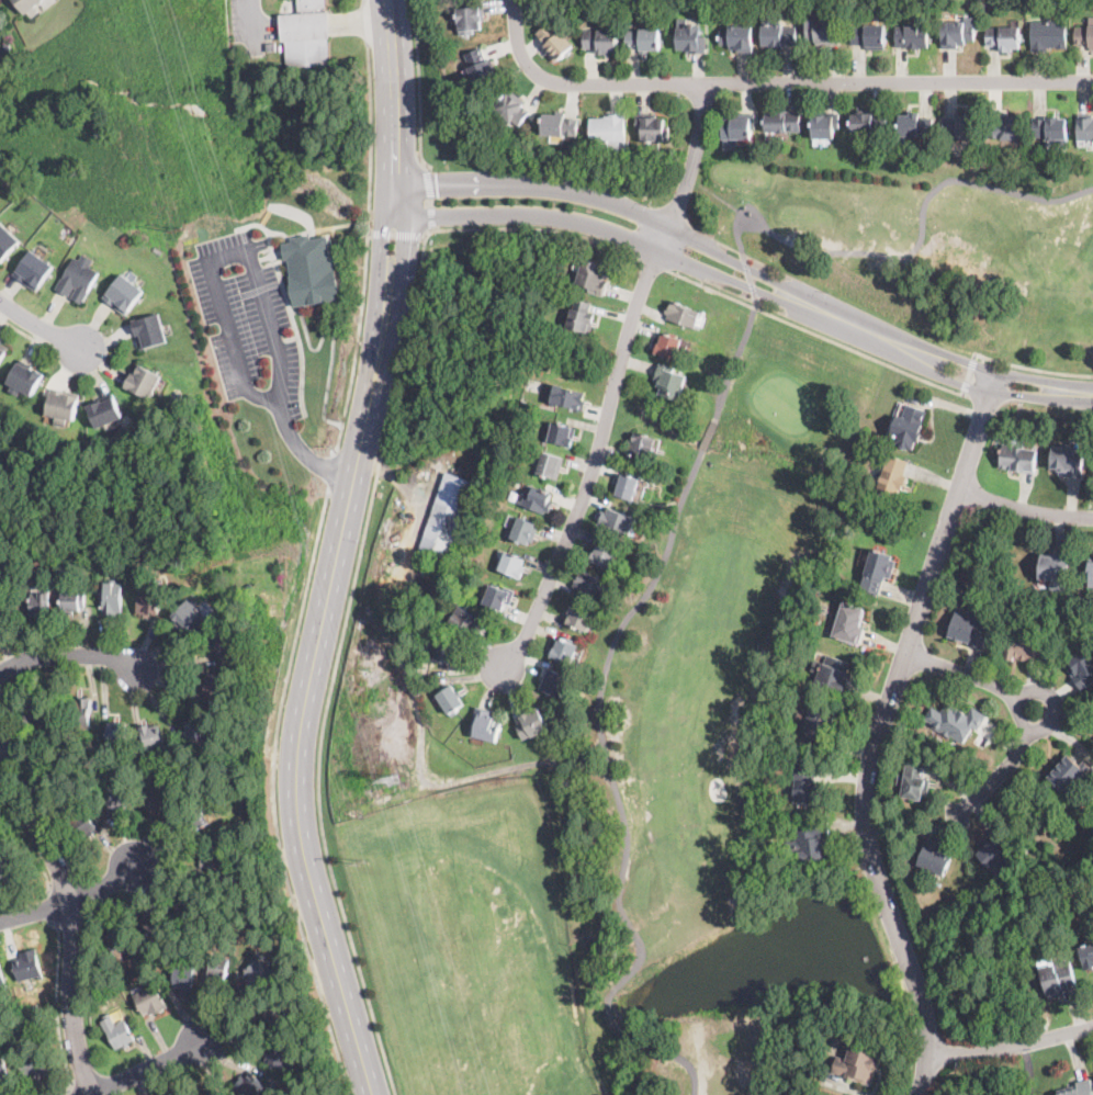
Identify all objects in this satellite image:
building: (29, 5)
building: (886, 7)
building: (796, 10)
building: (471, 16)
road: (252, 22)
building: (823, 31)
building: (958, 32)
building: (306, 34)
building: (778, 34)
building: (1049, 34)
building: (1085, 34)
building: (869, 35)
building: (913, 36)
building: (690, 37)
building: (1004, 37)
building: (643, 38)
building: (737, 38)
building: (601, 39)
building: (554, 41)
building: (271, 46)
building: (0, 54)
building: (233, 55)
building: (481, 67)
road: (774, 82)
road: (419, 84)
building: (514, 109)
building: (785, 122)
building: (869, 122)
building: (825, 124)
building: (560, 125)
building: (916, 125)
building: (653, 126)
building: (962, 126)
building: (1085, 126)
building: (737, 128)
building: (1005, 128)
building: (609, 131)
building: (1053, 131)
road: (694, 156)
road: (431, 196)
power tower: (179, 226)
road: (536, 227)
road: (370, 228)
road: (396, 236)
road: (663, 237)
road: (691, 237)
road: (916, 237)
building: (7, 241)
road: (228, 256)
road: (688, 261)
road: (651, 262)
road: (893, 269)
building: (34, 271)
building: (313, 271)
building: (593, 276)
road: (748, 276)
building: (79, 278)
building: (123, 294)
building: (683, 315)
building: (583, 317)
road: (42, 328)
road: (21, 330)
building: (150, 331)
road: (813, 332)
building: (668, 346)
building: (3, 351)
road: (735, 359)
road: (971, 362)
road: (1030, 368)
road: (968, 373)
road: (1032, 377)
building: (25, 379)
building: (144, 381)
building: (669, 382)
road: (964, 386)
road: (1027, 395)
building: (570, 397)
building: (63, 406)
building: (104, 410)
building: (910, 427)
road: (707, 433)
building: (562, 436)
building: (644, 444)
road: (306, 453)
building: (1019, 459)
building: (1069, 460)
road: (593, 462)
building: (550, 465)
road: (938, 466)
road: (330, 471)
building: (893, 476)
building: (413, 477)
building: (628, 487)
building: (640, 488)
building: (537, 499)
road: (1024, 507)
building: (477, 515)
building: (446, 518)
building: (618, 521)
building: (523, 531)
road: (336, 551)
building: (605, 555)
building: (89, 561)
building: (101, 561)
building: (15, 563)
building: (514, 565)
building: (1055, 569)
building: (878, 571)
building: (1090, 573)
building: (818, 584)
building: (593, 585)
building: (112, 597)
building: (499, 597)
building: (72, 600)
building: (150, 600)
building: (1, 603)
building: (40, 605)
building: (189, 617)
building: (581, 618)
building: (469, 622)
building: (849, 622)
building: (969, 626)
building: (221, 643)
building: (1026, 647)
building: (565, 651)
building: (447, 654)
road: (70, 655)
road: (336, 659)
building: (415, 665)
building: (1082, 667)
building: (834, 676)
building: (554, 682)
building: (216, 684)
building: (451, 699)
road: (1056, 707)
road: (1021, 711)
building: (38, 712)
building: (81, 713)
park: (736, 716)
building: (956, 721)
building: (532, 724)
building: (815, 724)
building: (487, 725)
road: (881, 731)
building: (198, 732)
building: (119, 735)
building: (153, 735)
building: (12, 746)
building: (1070, 772)
power tower: (394, 777)
building: (914, 779)
building: (805, 786)
road: (613, 792)
road: (274, 794)
building: (115, 798)
building: (161, 799)
building: (193, 820)
building: (86, 823)
building: (810, 842)
road: (35, 845)
building: (999, 849)
building: (936, 857)
power tower: (362, 860)
building: (8, 865)
building: (219, 866)
road: (71, 901)
building: (188, 905)
road: (54, 908)
building: (155, 924)
road: (75, 933)
building: (122, 941)
building: (1088, 951)
building: (27, 964)
building: (218, 967)
building: (258, 973)
building: (185, 977)
building: (2, 978)
building: (1058, 978)
building: (149, 1000)
road: (60, 1005)
building: (278, 1016)
building: (117, 1031)
road: (1029, 1036)
road: (1013, 1045)
building: (279, 1056)
building: (33, 1063)
building: (858, 1063)
road: (149, 1069)
building: (3, 1070)
building: (251, 1084)
building: (1080, 1088)
road: (76, 1091)
building: (211, 1093)
building: (174, 1094)

